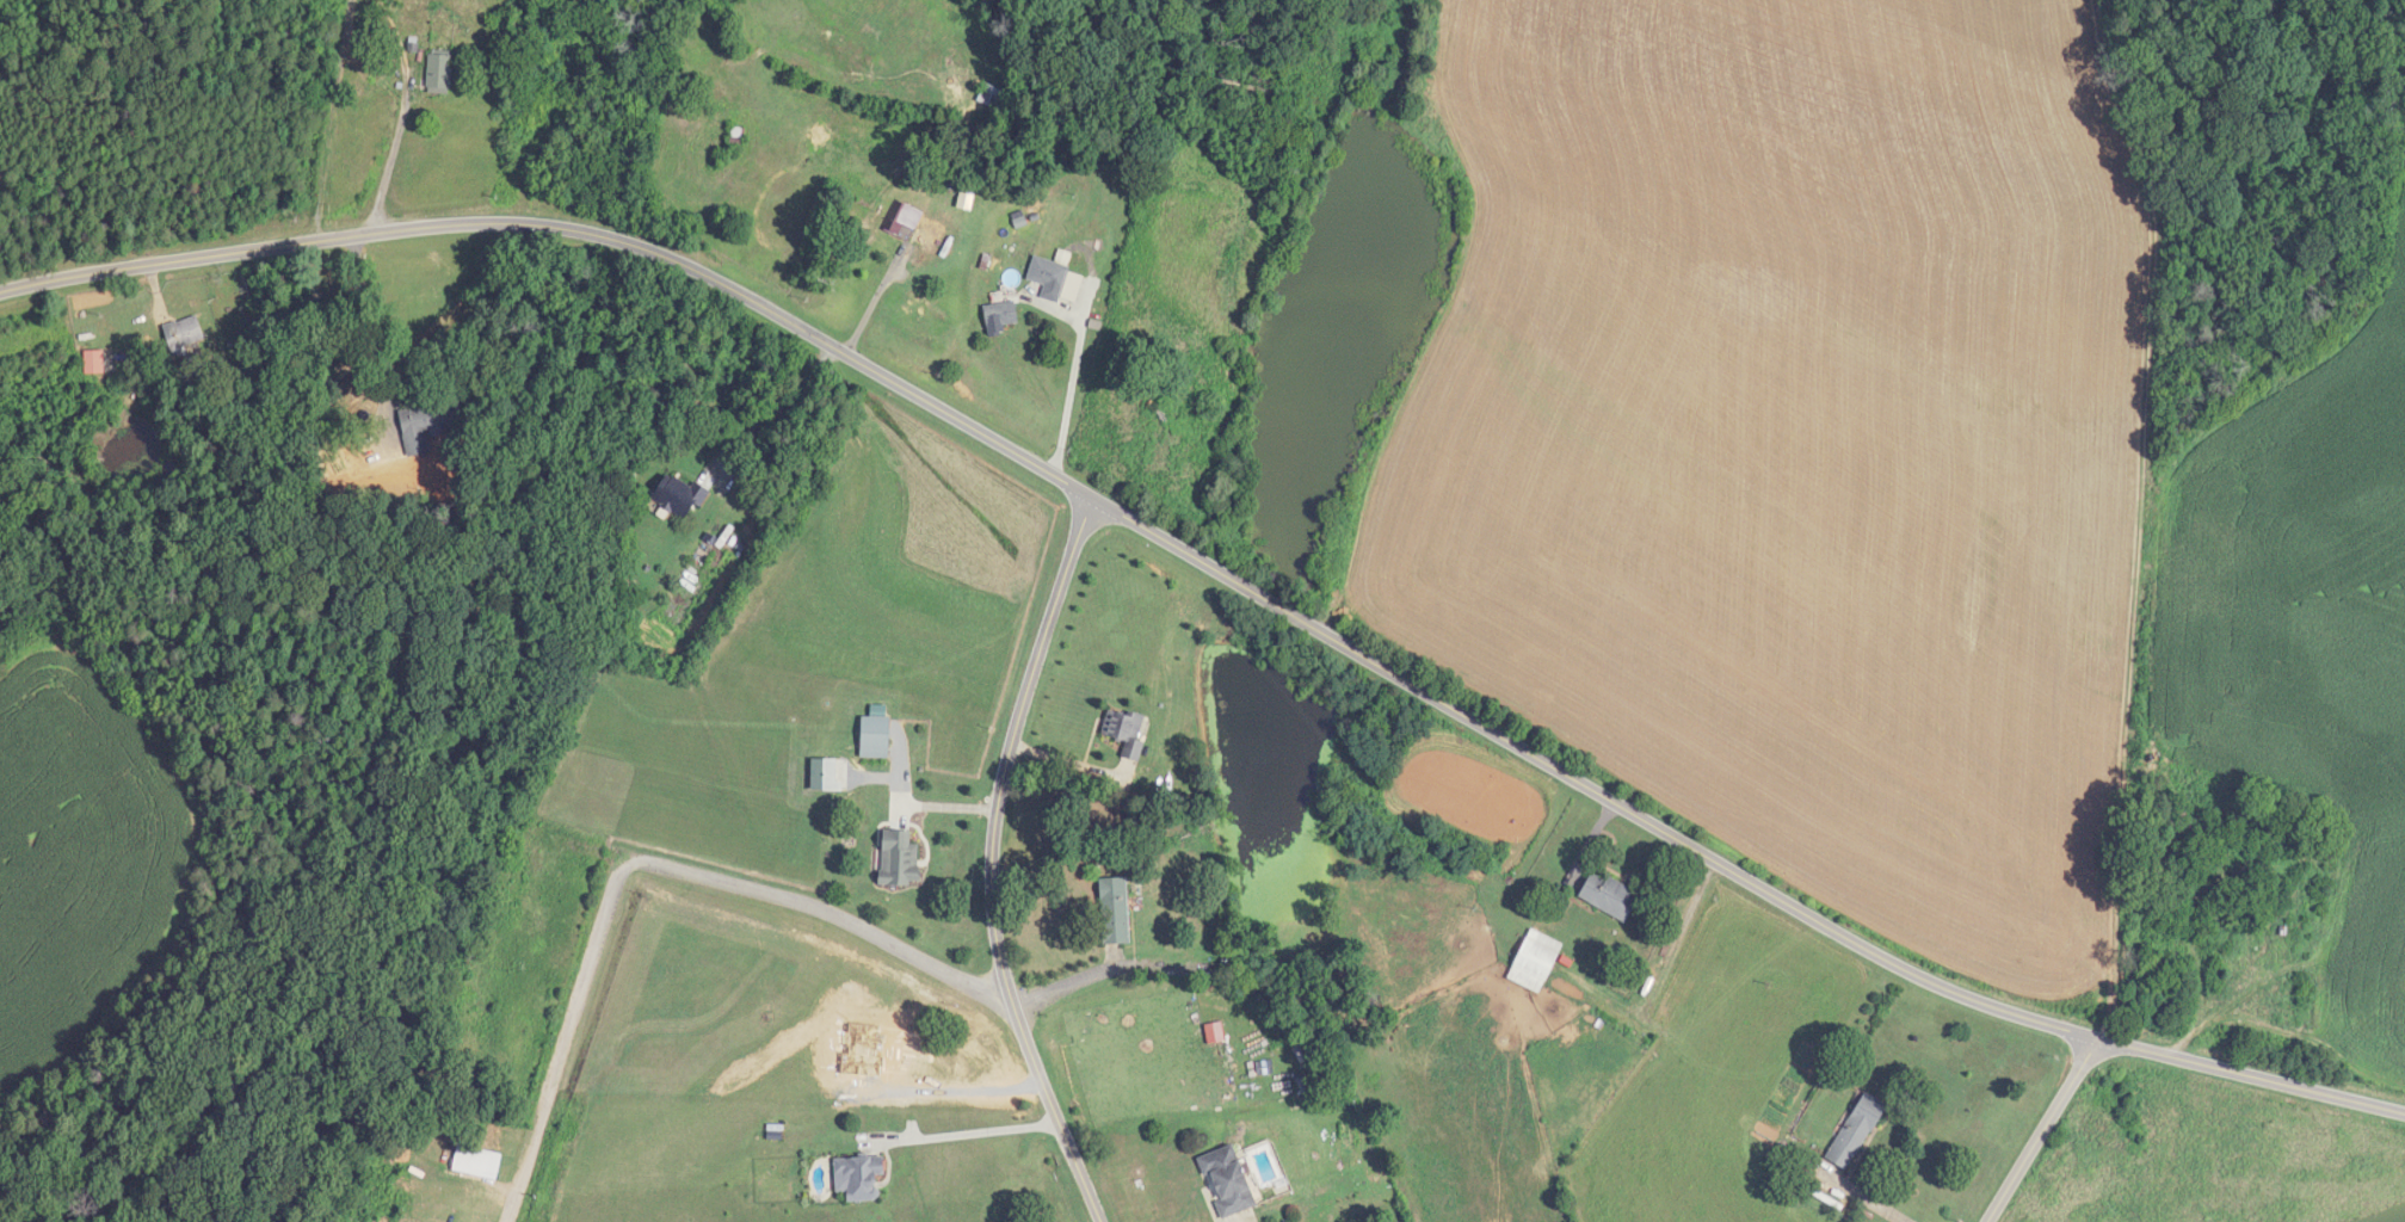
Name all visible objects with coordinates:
building: (440, 74)
building: (992, 97)
building: (736, 135)
road: (393, 152)
building: (957, 158)
building: (906, 220)
building: (1030, 221)
building: (1049, 273)
road: (874, 300)
building: (1001, 314)
road: (369, 329)
building: (185, 334)
road: (1071, 389)
road: (779, 415)
building: (430, 425)
building: (679, 495)
road: (1220, 573)
building: (1126, 730)
building: (876, 737)
building: (900, 859)
road: (992, 862)
road: (642, 863)
building: (1611, 896)
building: (1116, 912)
building: (1536, 961)
building: (1857, 1131)
road: (2042, 1131)
road: (966, 1134)
building: (477, 1162)
building: (859, 1178)
building: (1228, 1181)
road: (1867, 1202)
road: (1244, 1220)

